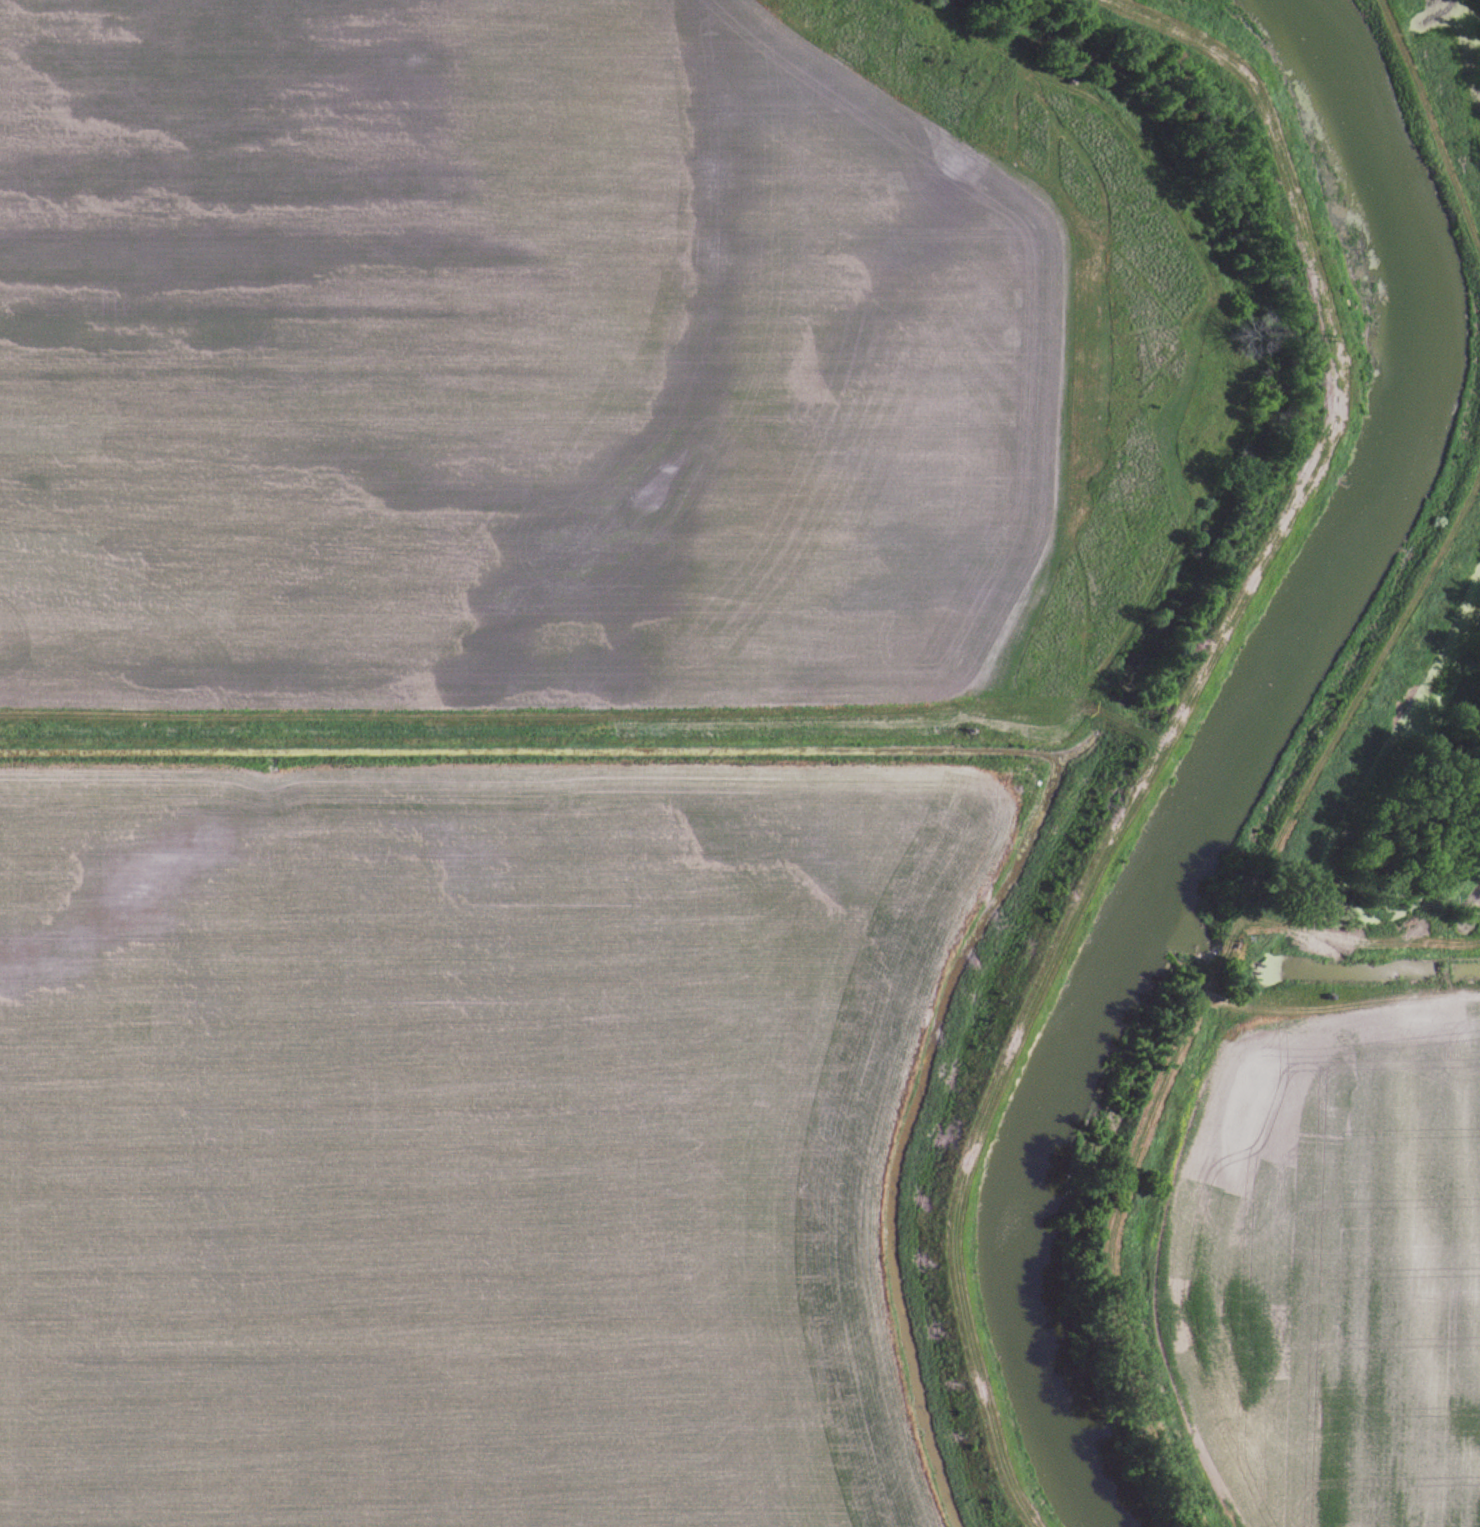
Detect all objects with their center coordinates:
crop: (504, 358)
road: (511, 714)
river: (1226, 758)
road: (1339, 1000)
crop: (463, 1140)

